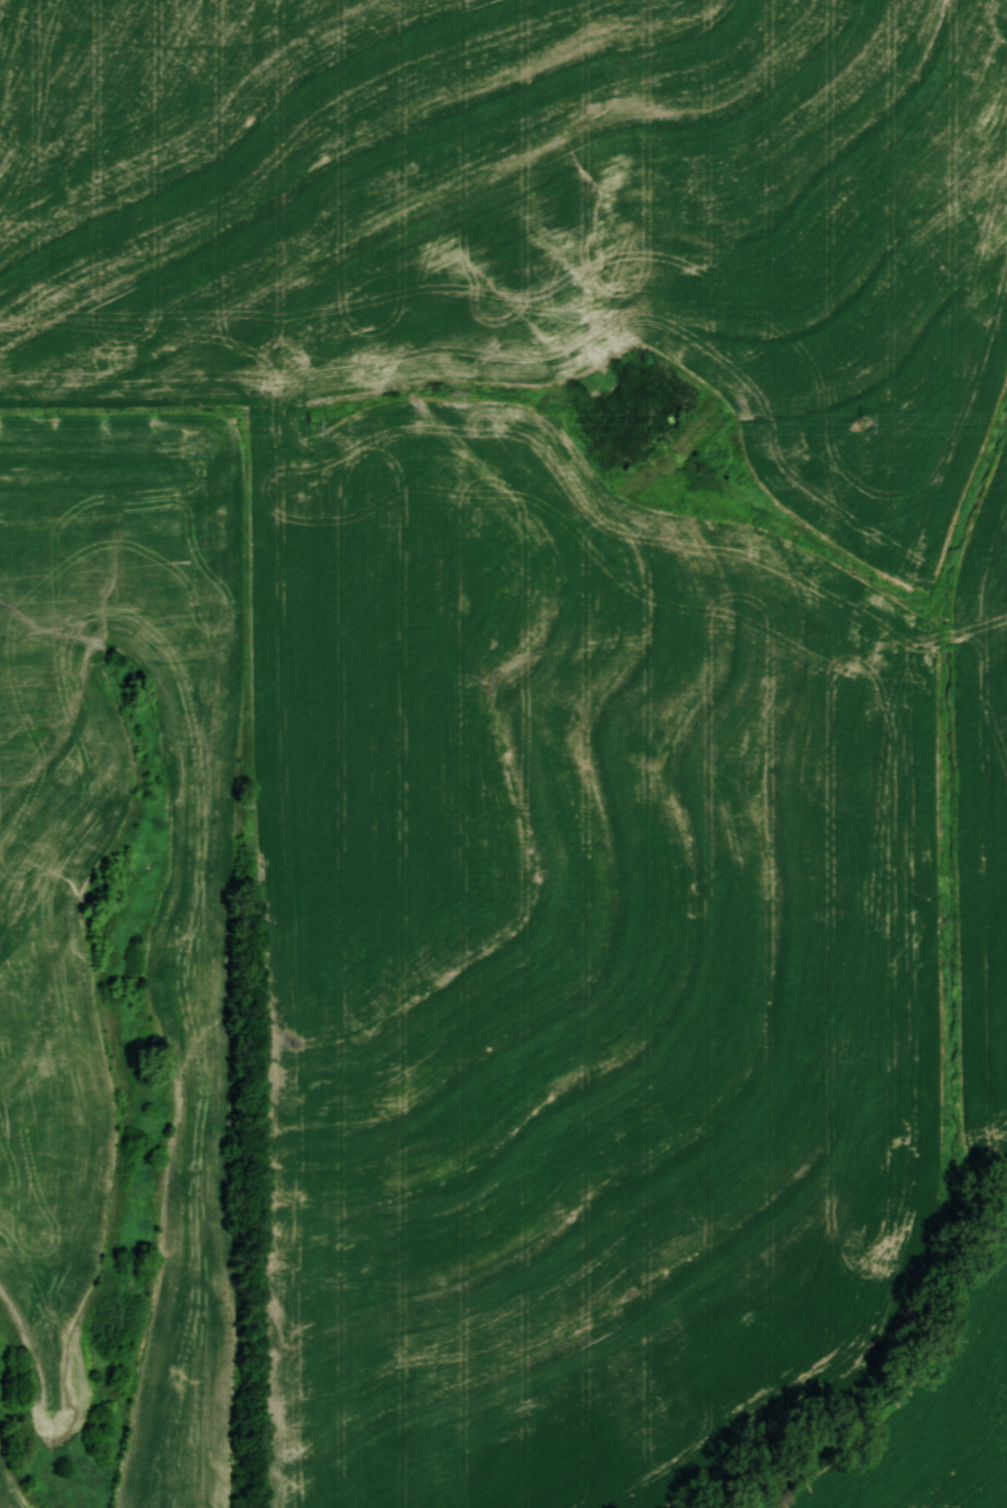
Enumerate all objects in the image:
power tower: (862, 424)
power tower: (309, 427)

